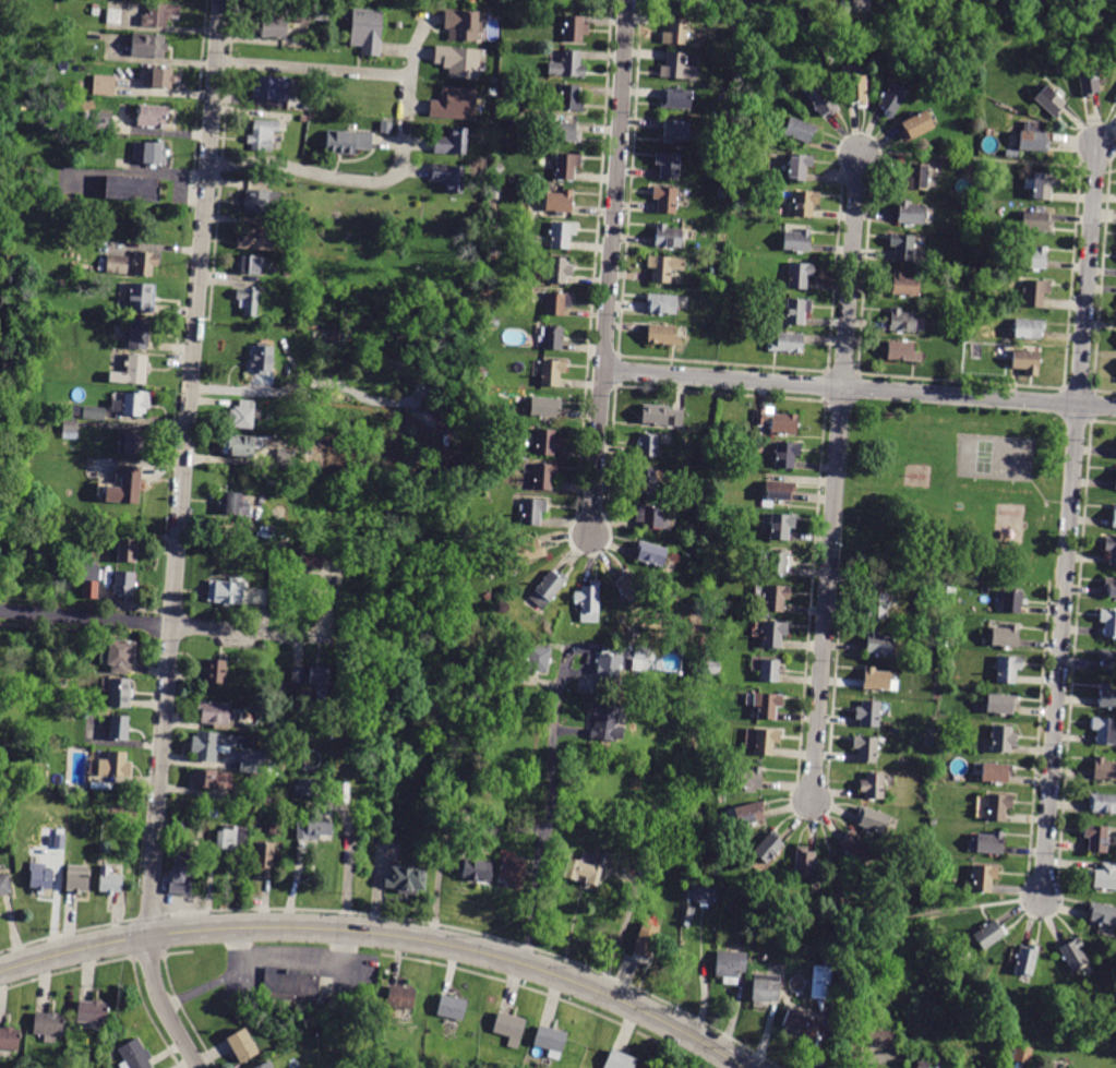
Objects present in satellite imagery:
building: (845, 8)
building: (96, 12)
building: (160, 14)
building: (310, 14)
building: (115, 16)
building: (466, 23)
building: (5, 24)
building: (274, 27)
building: (575, 28)
building: (994, 28)
building: (369, 31)
building: (676, 32)
building: (148, 46)
building: (460, 60)
road: (412, 62)
building: (566, 63)
road: (313, 68)
building: (679, 68)
building: (160, 77)
building: (1091, 81)
building: (105, 85)
building: (272, 87)
building: (857, 91)
building: (1115, 96)
building: (571, 97)
building: (677, 98)
building: (891, 99)
building: (1052, 100)
building: (823, 101)
building: (454, 103)
building: (308, 106)
building: (153, 116)
building: (304, 119)
building: (101, 121)
building: (916, 125)
building: (800, 130)
building: (564, 131)
building: (676, 131)
building: (263, 135)
building: (346, 142)
building: (451, 142)
building: (1033, 142)
building: (149, 153)
road: (988, 158)
building: (668, 165)
building: (567, 166)
building: (800, 167)
building: (499, 169)
road: (325, 177)
building: (447, 177)
building: (916, 177)
building: (1042, 185)
building: (132, 188)
building: (667, 200)
building: (560, 201)
building: (257, 202)
building: (805, 203)
building: (913, 214)
building: (1036, 221)
building: (481, 225)
building: (563, 235)
building: (669, 237)
building: (255, 239)
building: (796, 240)
building: (492, 243)
building: (903, 247)
building: (721, 252)
building: (1033, 259)
building: (145, 263)
building: (290, 263)
building: (117, 264)
building: (249, 264)
road: (610, 266)
building: (664, 267)
building: (560, 269)
building: (800, 276)
building: (973, 278)
building: (61, 283)
building: (905, 285)
building: (490, 286)
building: (730, 293)
building: (1035, 293)
building: (142, 298)
building: (248, 301)
building: (557, 303)
building: (663, 304)
building: (797, 311)
building: (905, 322)
building: (494, 323)
building: (1028, 328)
building: (139, 334)
building: (36, 335)
building: (663, 336)
building: (554, 338)
building: (789, 344)
building: (902, 351)
building: (262, 359)
building: (1025, 361)
building: (132, 371)
building: (552, 373)
building: (89, 388)
road: (860, 388)
building: (133, 404)
building: (545, 407)
building: (67, 410)
building: (94, 412)
building: (242, 415)
building: (661, 416)
building: (778, 422)
building: (480, 425)
building: (70, 427)
building: (307, 428)
building: (548, 443)
building: (133, 444)
building: (241, 445)
building: (650, 445)
building: (787, 455)
park: (984, 456)
building: (286, 459)
road: (836, 475)
building: (544, 476)
building: (718, 478)
building: (1115, 479)
building: (648, 480)
building: (127, 487)
park: (953, 487)
building: (778, 493)
building: (235, 505)
building: (533, 512)
building: (651, 517)
building: (1115, 517)
road: (1069, 521)
building: (781, 526)
building: (265, 532)
road: (179, 539)
building: (128, 550)
building: (1111, 550)
building: (651, 554)
building: (525, 555)
building: (312, 557)
building: (773, 563)
building: (91, 581)
building: (124, 584)
building: (629, 587)
building: (1112, 588)
building: (549, 589)
building: (225, 592)
building: (488, 596)
building: (776, 598)
building: (878, 600)
building: (1012, 602)
building: (589, 603)
building: (1109, 622)
road: (178, 625)
building: (773, 634)
building: (1006, 636)
building: (703, 639)
building: (879, 644)
building: (326, 653)
building: (120, 655)
building: (641, 658)
building: (1108, 658)
building: (538, 659)
building: (610, 664)
building: (712, 667)
building: (1008, 669)
building: (769, 670)
building: (216, 671)
building: (297, 675)
building: (317, 675)
building: (877, 679)
building: (120, 693)
building: (1108, 696)
building: (768, 704)
building: (1001, 704)
building: (214, 712)
building: (868, 712)
building: (608, 721)
building: (119, 728)
building: (1105, 730)
building: (931, 732)
building: (1003, 739)
building: (766, 741)
building: (211, 745)
building: (48, 748)
building: (866, 748)
building: (251, 764)
building: (112, 765)
building: (1104, 769)
building: (996, 772)
building: (749, 778)
building: (203, 780)
building: (224, 781)
building: (874, 785)
building: (305, 788)
building: (242, 797)
building: (262, 802)
building: (1103, 802)
building: (997, 807)
building: (110, 811)
building: (746, 815)
road: (551, 816)
building: (254, 818)
building: (872, 820)
building: (524, 827)
building: (181, 829)
building: (275, 829)
building: (311, 835)
building: (231, 838)
building: (1096, 838)
building: (59, 840)
building: (988, 842)
building: (769, 847)
building: (855, 847)
building: (264, 856)
road: (349, 860)
building: (805, 863)
building: (589, 868)
building: (479, 872)
building: (513, 872)
building: (915, 874)
building: (181, 875)
building: (1104, 876)
building: (40, 878)
building: (407, 879)
building: (983, 879)
building: (76, 880)
building: (109, 881)
building: (4, 885)
building: (703, 896)
road: (943, 910)
road: (148, 914)
building: (1103, 914)
road: (67, 931)
road: (843, 932)
road: (383, 933)
building: (988, 935)
building: (646, 940)
road: (145, 953)
building: (1073, 953)
road: (302, 956)
building: (1025, 960)
building: (828, 961)
building: (731, 967)
road: (65, 970)
road: (218, 979)
building: (820, 982)
building: (289, 984)
building: (325, 985)
building: (766, 987)
building: (401, 998)
building: (452, 1008)
building: (93, 1012)
building: (801, 1023)
building: (49, 1025)
building: (511, 1029)
building: (879, 1035)
building: (10, 1039)
building: (551, 1042)
building: (242, 1045)
building: (1018, 1053)
building: (134, 1056)
building: (620, 1060)
building: (266, 1065)
building: (919, 1067)

